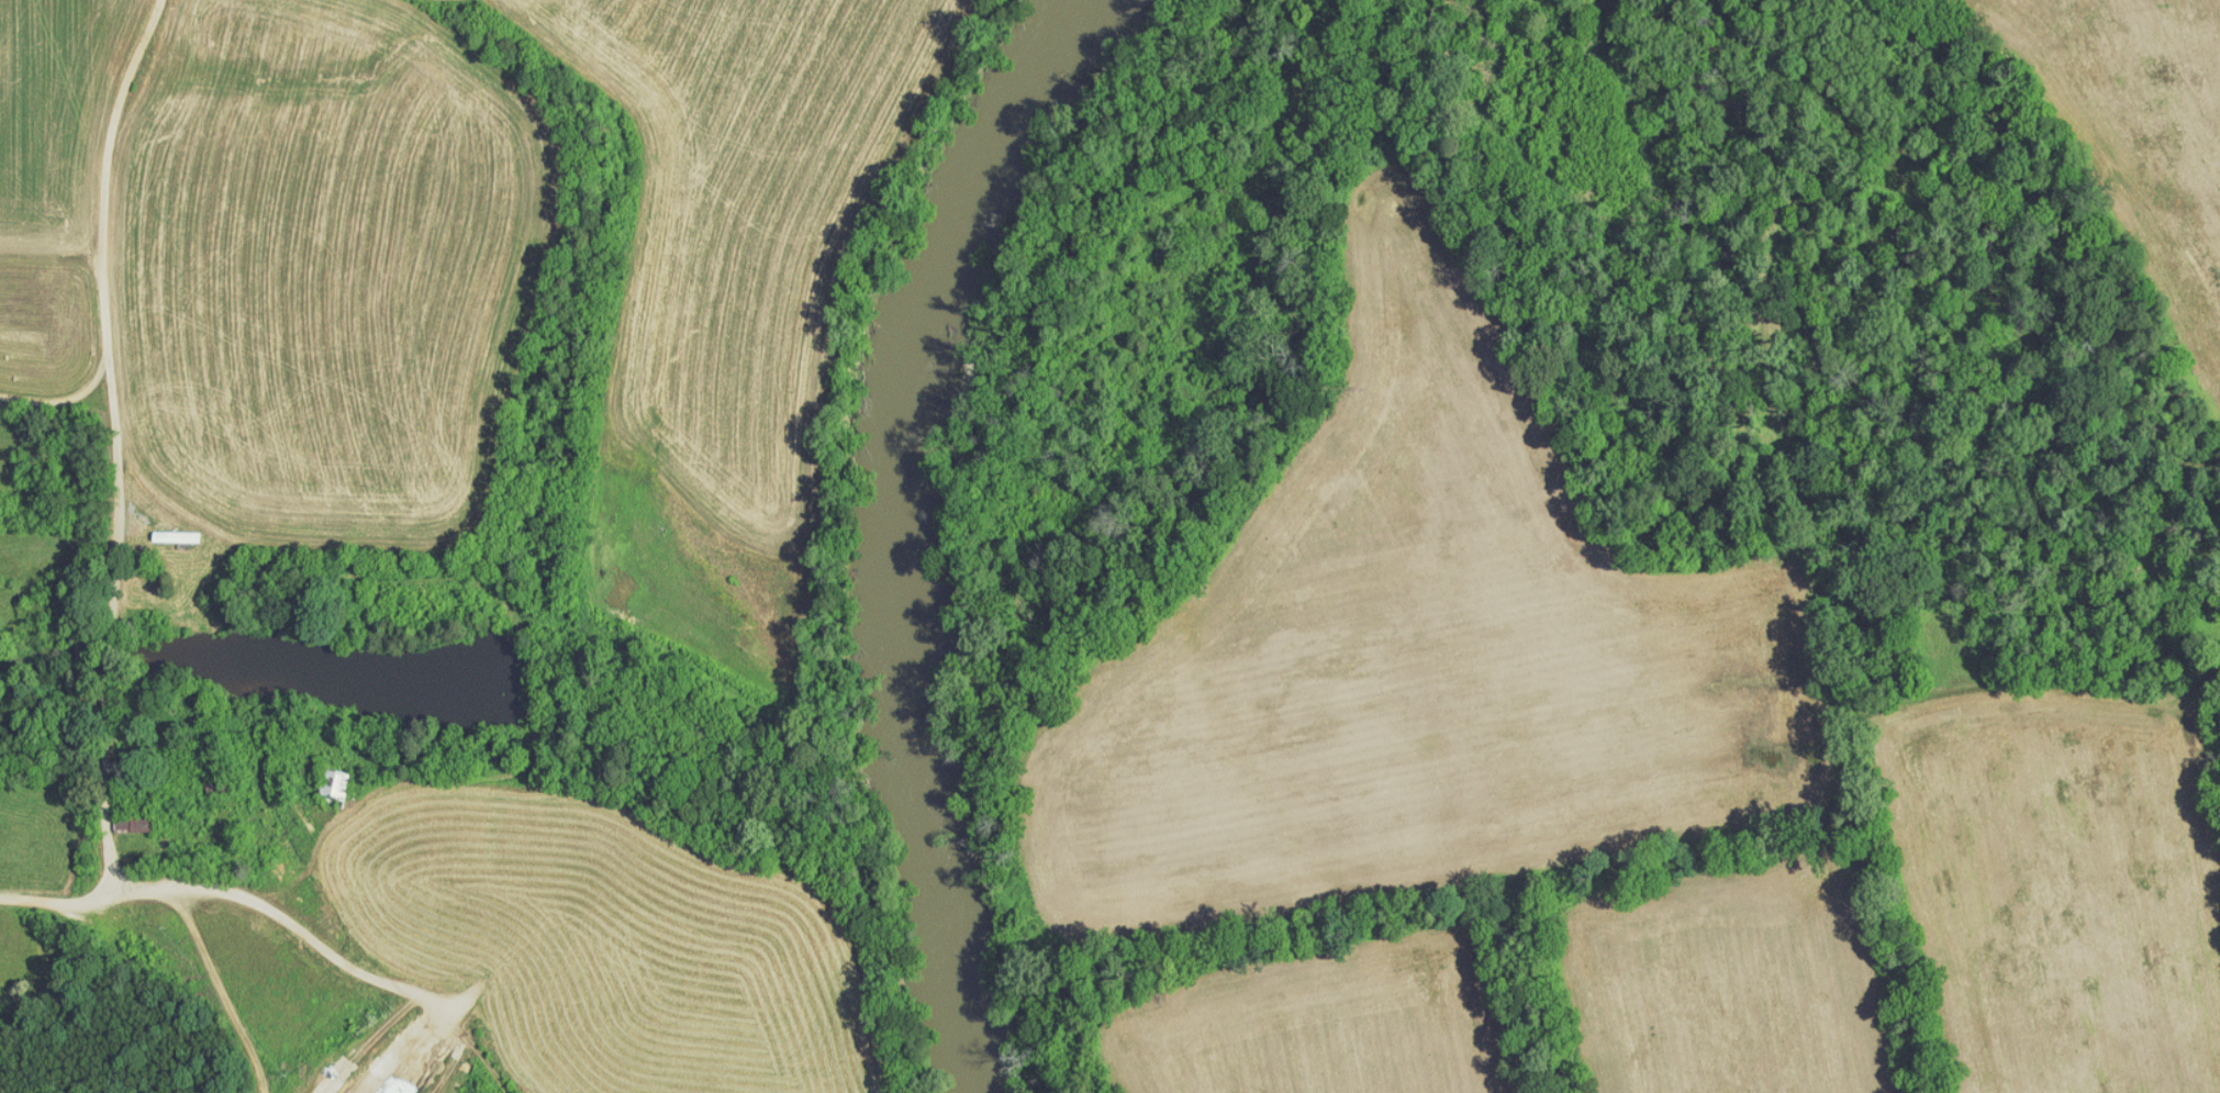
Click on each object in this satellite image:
road: (1790, 71)
road: (1740, 201)
river: (917, 330)
road: (64, 398)
road: (116, 494)
building: (161, 528)
road: (1885, 781)
river: (940, 893)

